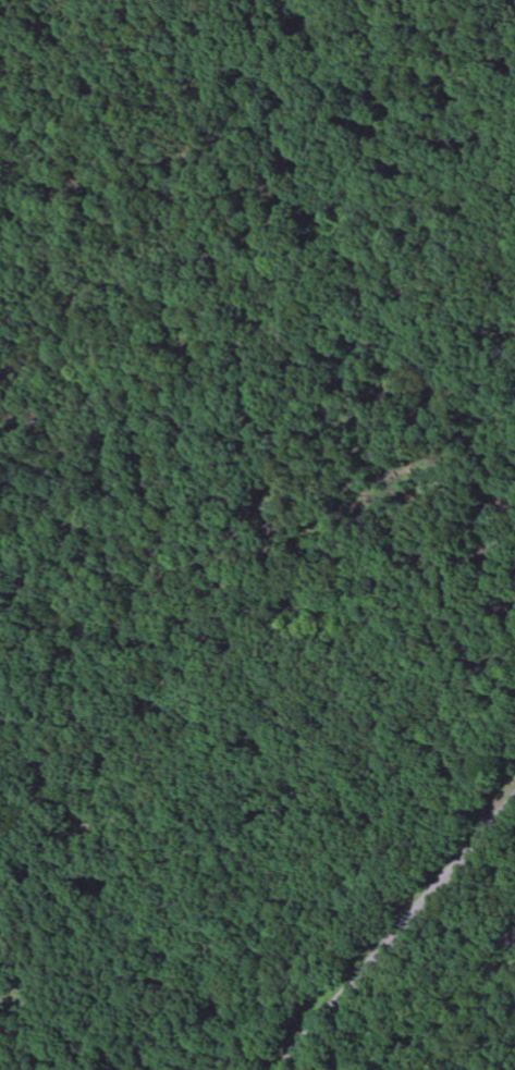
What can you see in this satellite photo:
road: (397, 936)

